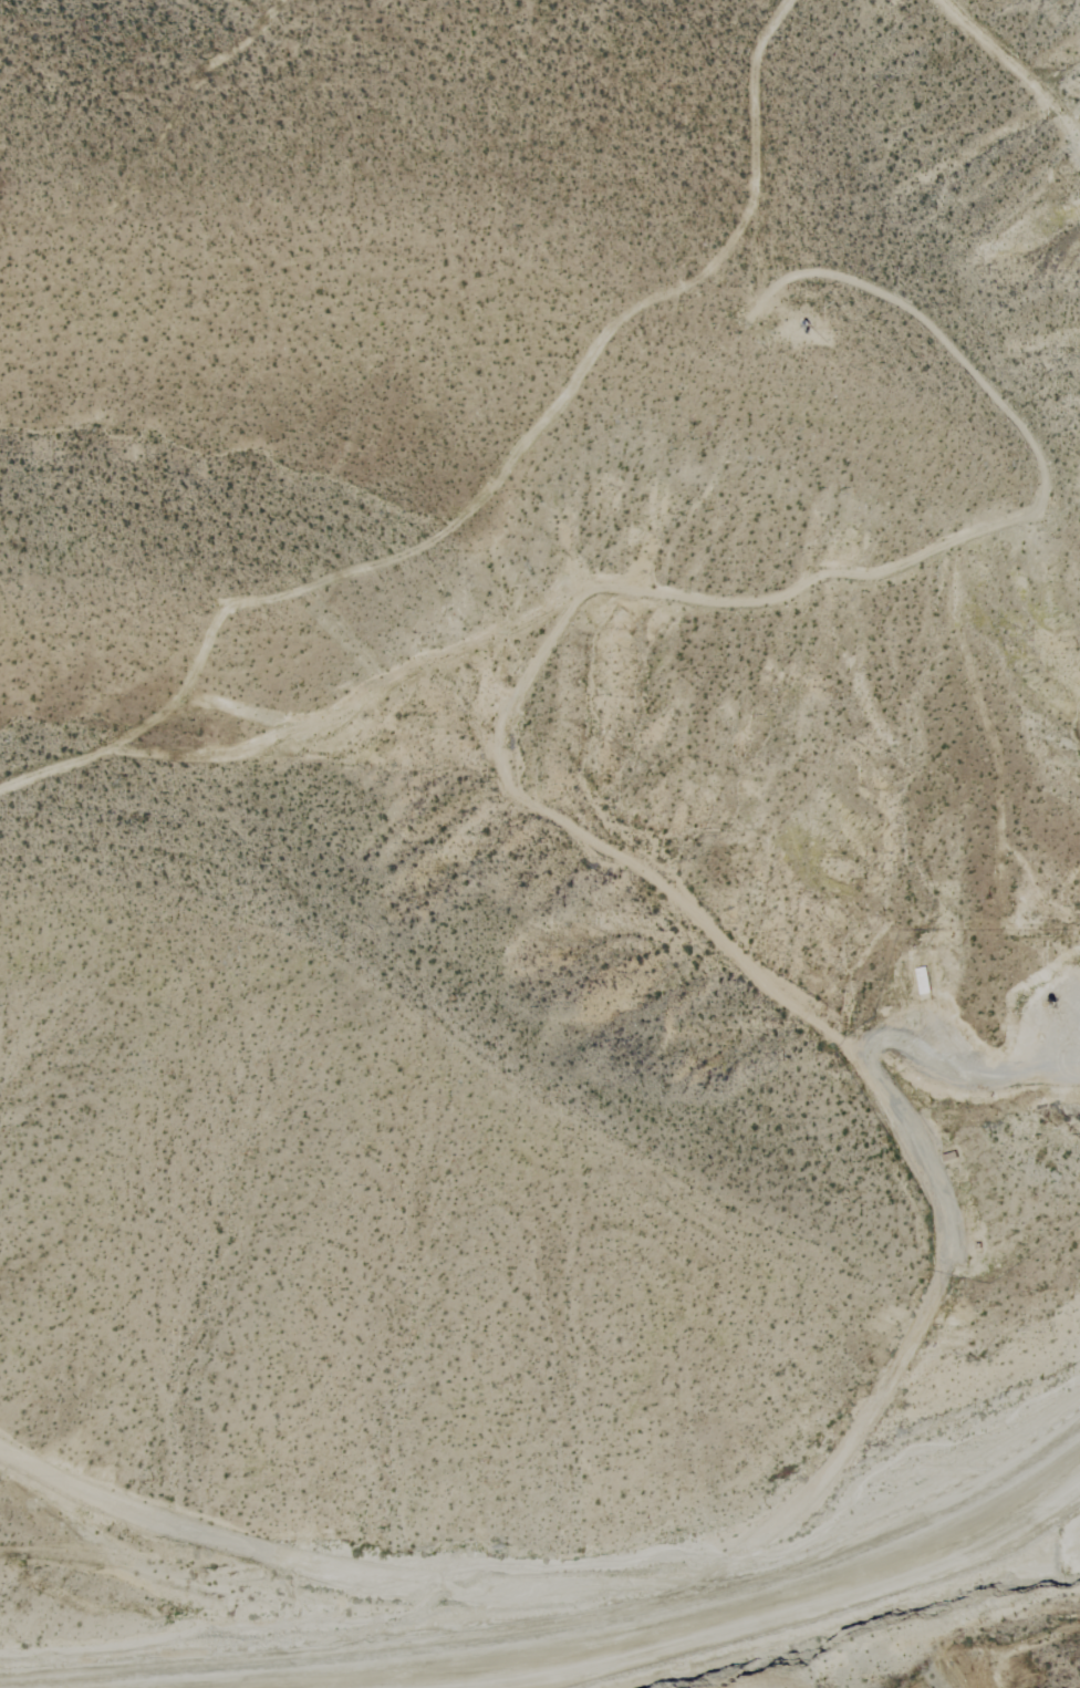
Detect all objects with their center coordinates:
road: (942, 1249)
road: (716, 1615)

